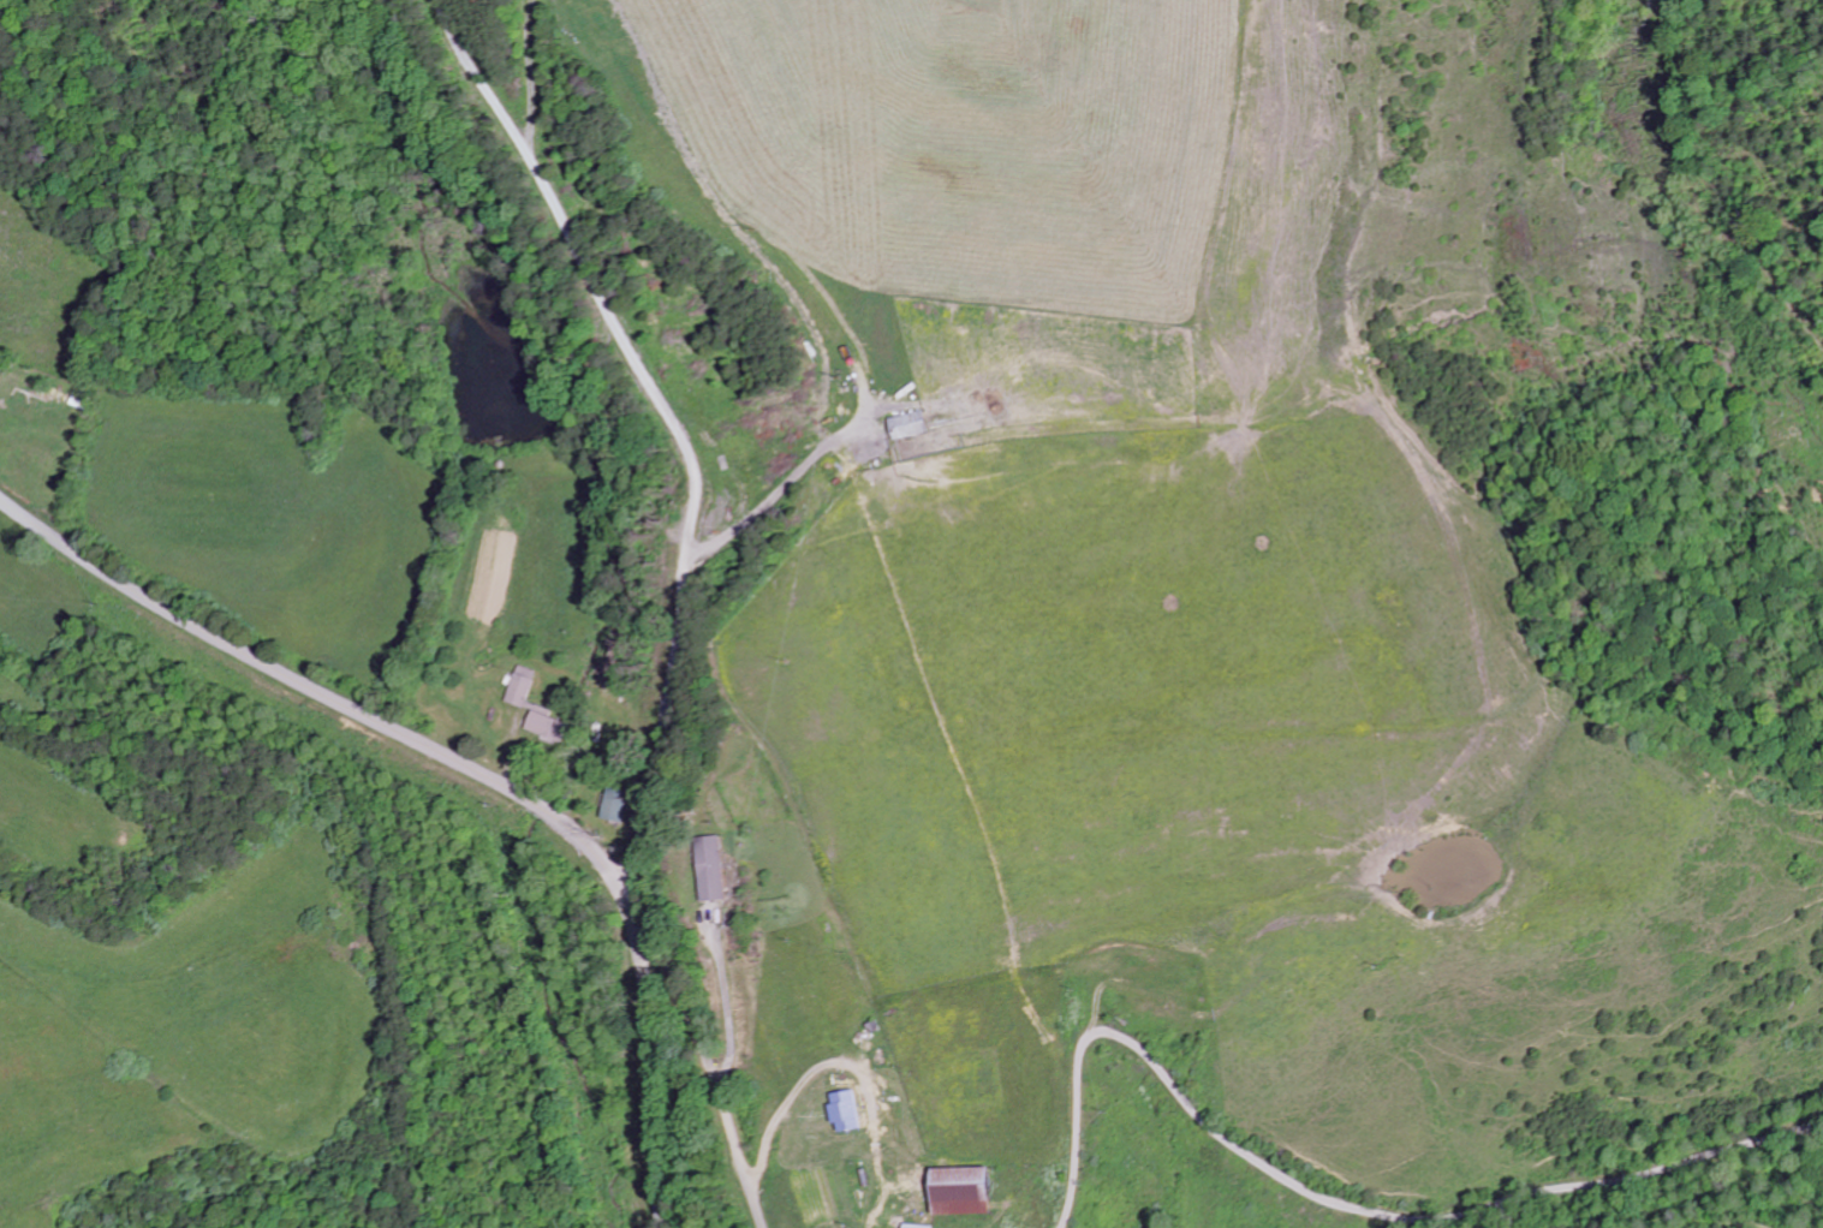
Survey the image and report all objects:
road: (671, 421)
building: (907, 427)
building: (522, 687)
building: (547, 727)
road: (466, 768)
building: (619, 807)
building: (713, 870)
road: (713, 1072)
building: (842, 1111)
building: (955, 1192)
road: (1334, 1203)
building: (912, 1227)

